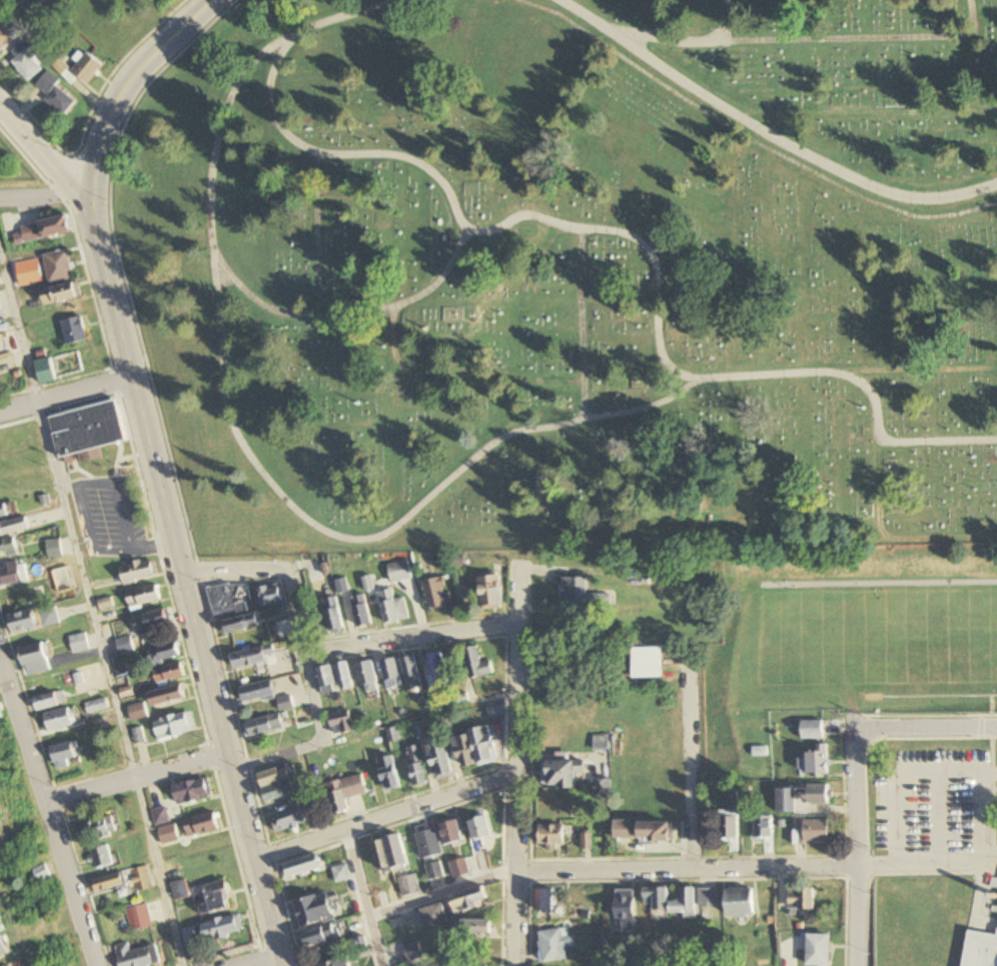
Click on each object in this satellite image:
road: (724, 20)
building: (24, 23)
road: (808, 40)
building: (26, 63)
building: (87, 68)
road: (126, 85)
building: (55, 94)
road: (865, 114)
road: (765, 133)
road: (746, 139)
road: (41, 149)
park: (14, 171)
road: (41, 196)
road: (465, 227)
building: (42, 230)
road: (317, 232)
building: (58, 266)
road: (120, 266)
park: (574, 275)
building: (26, 276)
building: (60, 294)
building: (0, 308)
road: (581, 324)
building: (73, 330)
building: (5, 350)
building: (45, 371)
road: (697, 378)
road: (63, 394)
building: (86, 431)
road: (243, 446)
building: (4, 511)
building: (13, 527)
building: (8, 547)
building: (53, 549)
building: (399, 571)
building: (138, 572)
building: (12, 574)
road: (182, 579)
building: (340, 586)
building: (490, 591)
building: (436, 593)
building: (270, 594)
building: (143, 597)
building: (584, 597)
building: (229, 599)
building: (392, 607)
building: (361, 610)
road: (92, 611)
building: (332, 615)
building: (48, 616)
building: (22, 622)
building: (152, 623)
building: (241, 623)
building: (78, 643)
building: (124, 645)
road: (320, 649)
building: (163, 653)
building: (251, 657)
building: (34, 659)
building: (477, 664)
building: (647, 664)
building: (439, 670)
building: (169, 673)
building: (411, 674)
building: (391, 675)
building: (344, 677)
building: (367, 678)
building: (326, 680)
building: (257, 691)
building: (166, 696)
building: (49, 701)
building: (285, 703)
building: (96, 706)
building: (496, 710)
building: (137, 712)
building: (0, 715)
building: (58, 720)
building: (340, 724)
building: (173, 726)
building: (265, 726)
building: (447, 727)
building: (812, 730)
road: (927, 731)
building: (420, 732)
building: (387, 737)
road: (316, 740)
building: (600, 743)
building: (484, 746)
building: (464, 753)
building: (65, 754)
building: (440, 762)
building: (818, 762)
road: (516, 765)
building: (416, 767)
building: (388, 774)
building: (563, 774)
road: (698, 774)
road: (132, 776)
building: (278, 783)
building: (601, 788)
building: (192, 791)
building: (344, 793)
building: (818, 795)
building: (787, 801)
road: (44, 812)
building: (298, 814)
road: (383, 816)
building: (160, 817)
building: (201, 825)
building: (729, 826)
building: (480, 828)
building: (763, 828)
building: (100, 829)
building: (451, 833)
building: (656, 833)
building: (815, 833)
building: (168, 835)
building: (551, 836)
building: (428, 844)
road: (857, 847)
building: (392, 856)
building: (102, 858)
road: (928, 862)
building: (303, 867)
building: (459, 869)
building: (434, 872)
road: (684, 872)
building: (341, 874)
road: (356, 874)
building: (41, 876)
building: (141, 880)
building: (109, 884)
building: (409, 886)
building: (657, 898)
building: (709, 898)
building: (214, 899)
building: (801, 899)
building: (380, 900)
building: (469, 901)
building: (547, 902)
building: (741, 902)
road: (416, 903)
building: (685, 904)
building: (625, 905)
building: (315, 911)
building: (434, 916)
building: (138, 918)
building: (222, 928)
building: (478, 929)
building: (322, 937)
building: (555, 944)
building: (361, 947)
building: (818, 950)
building: (980, 950)
building: (2, 952)
building: (413, 953)
building: (136, 956)
road: (253, 960)
building: (337, 962)

